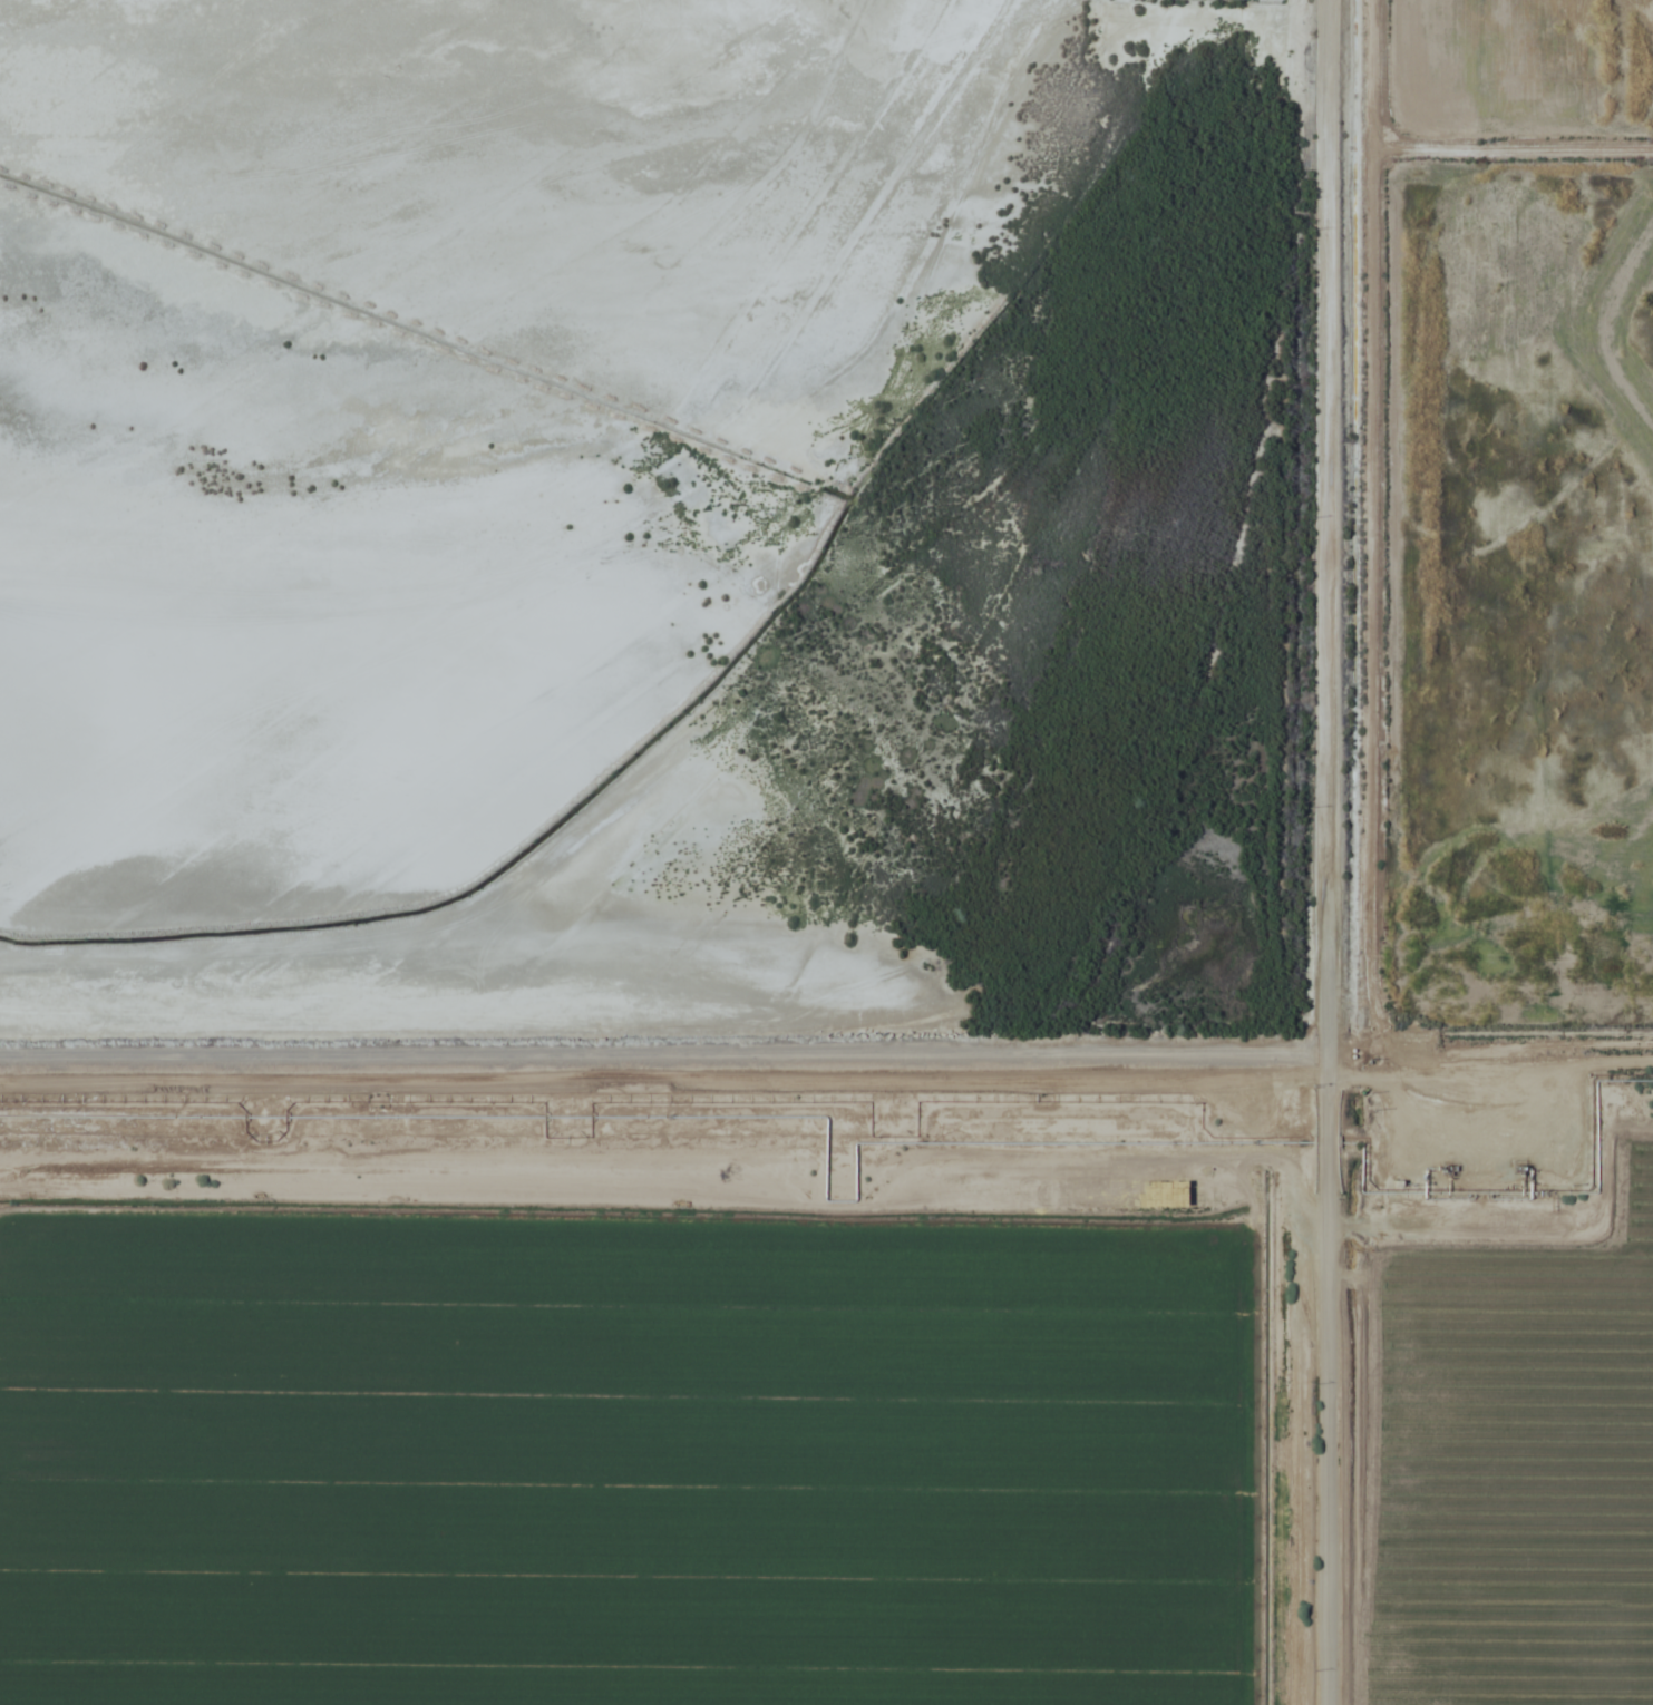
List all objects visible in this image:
road: (1297, 852)
parking lot: (1407, 1042)

